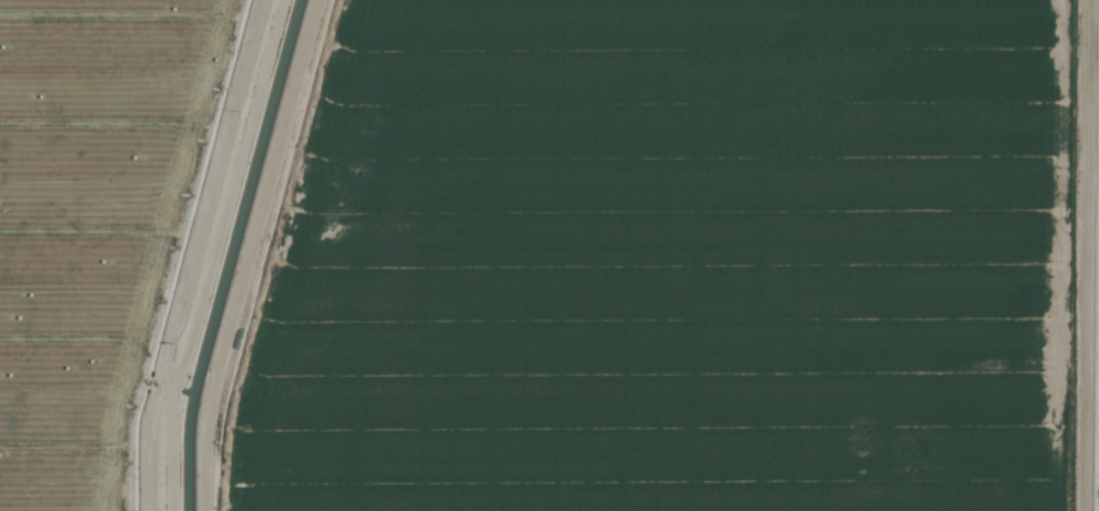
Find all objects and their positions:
crop: (549, 255)

